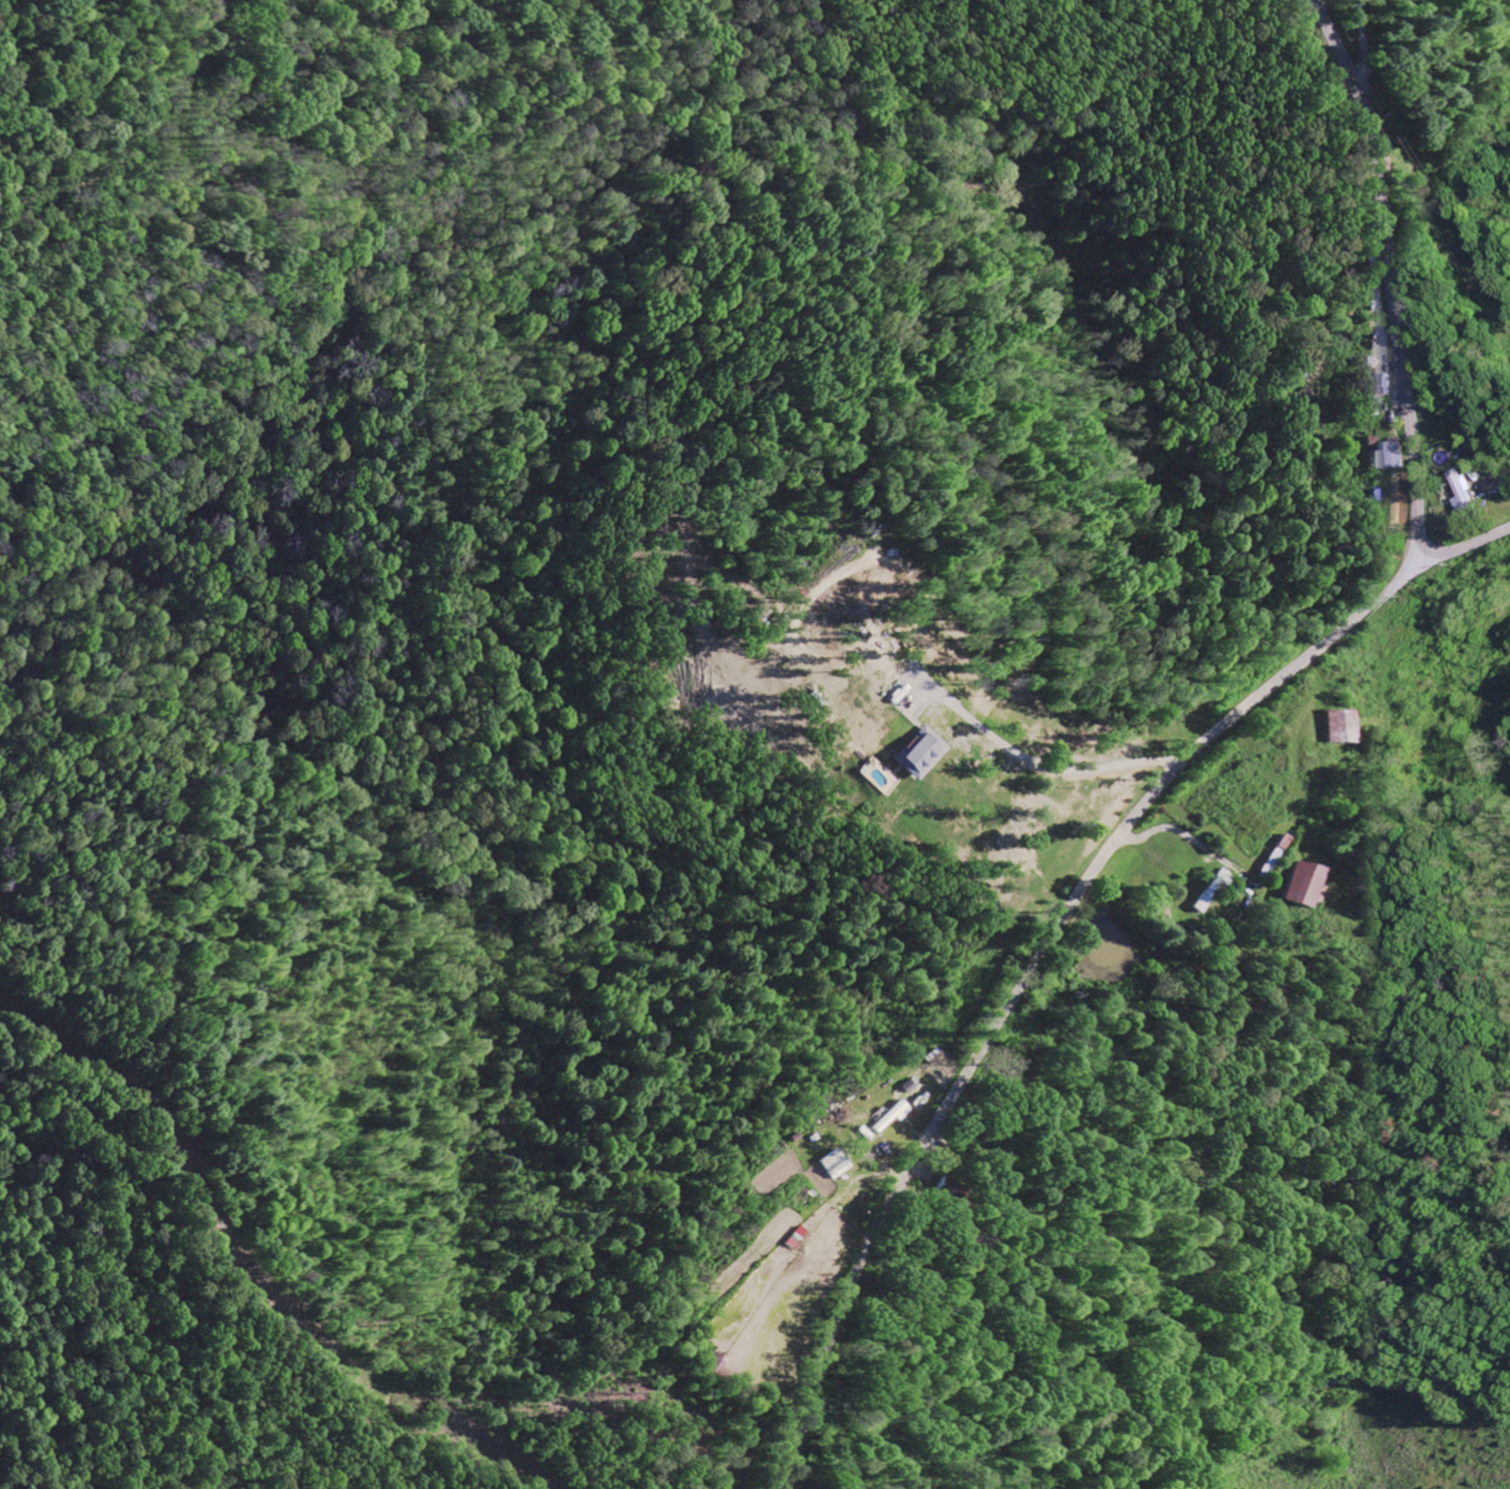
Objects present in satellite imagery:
road: (1388, 271)
building: (1375, 389)
building: (1385, 457)
building: (1459, 494)
road: (1465, 546)
building: (1331, 729)
building: (915, 756)
building: (1294, 887)
building: (1206, 894)
road: (1029, 970)
road: (156, 1097)
building: (889, 1117)
building: (830, 1166)
building: (710, 1366)
road: (381, 1385)

